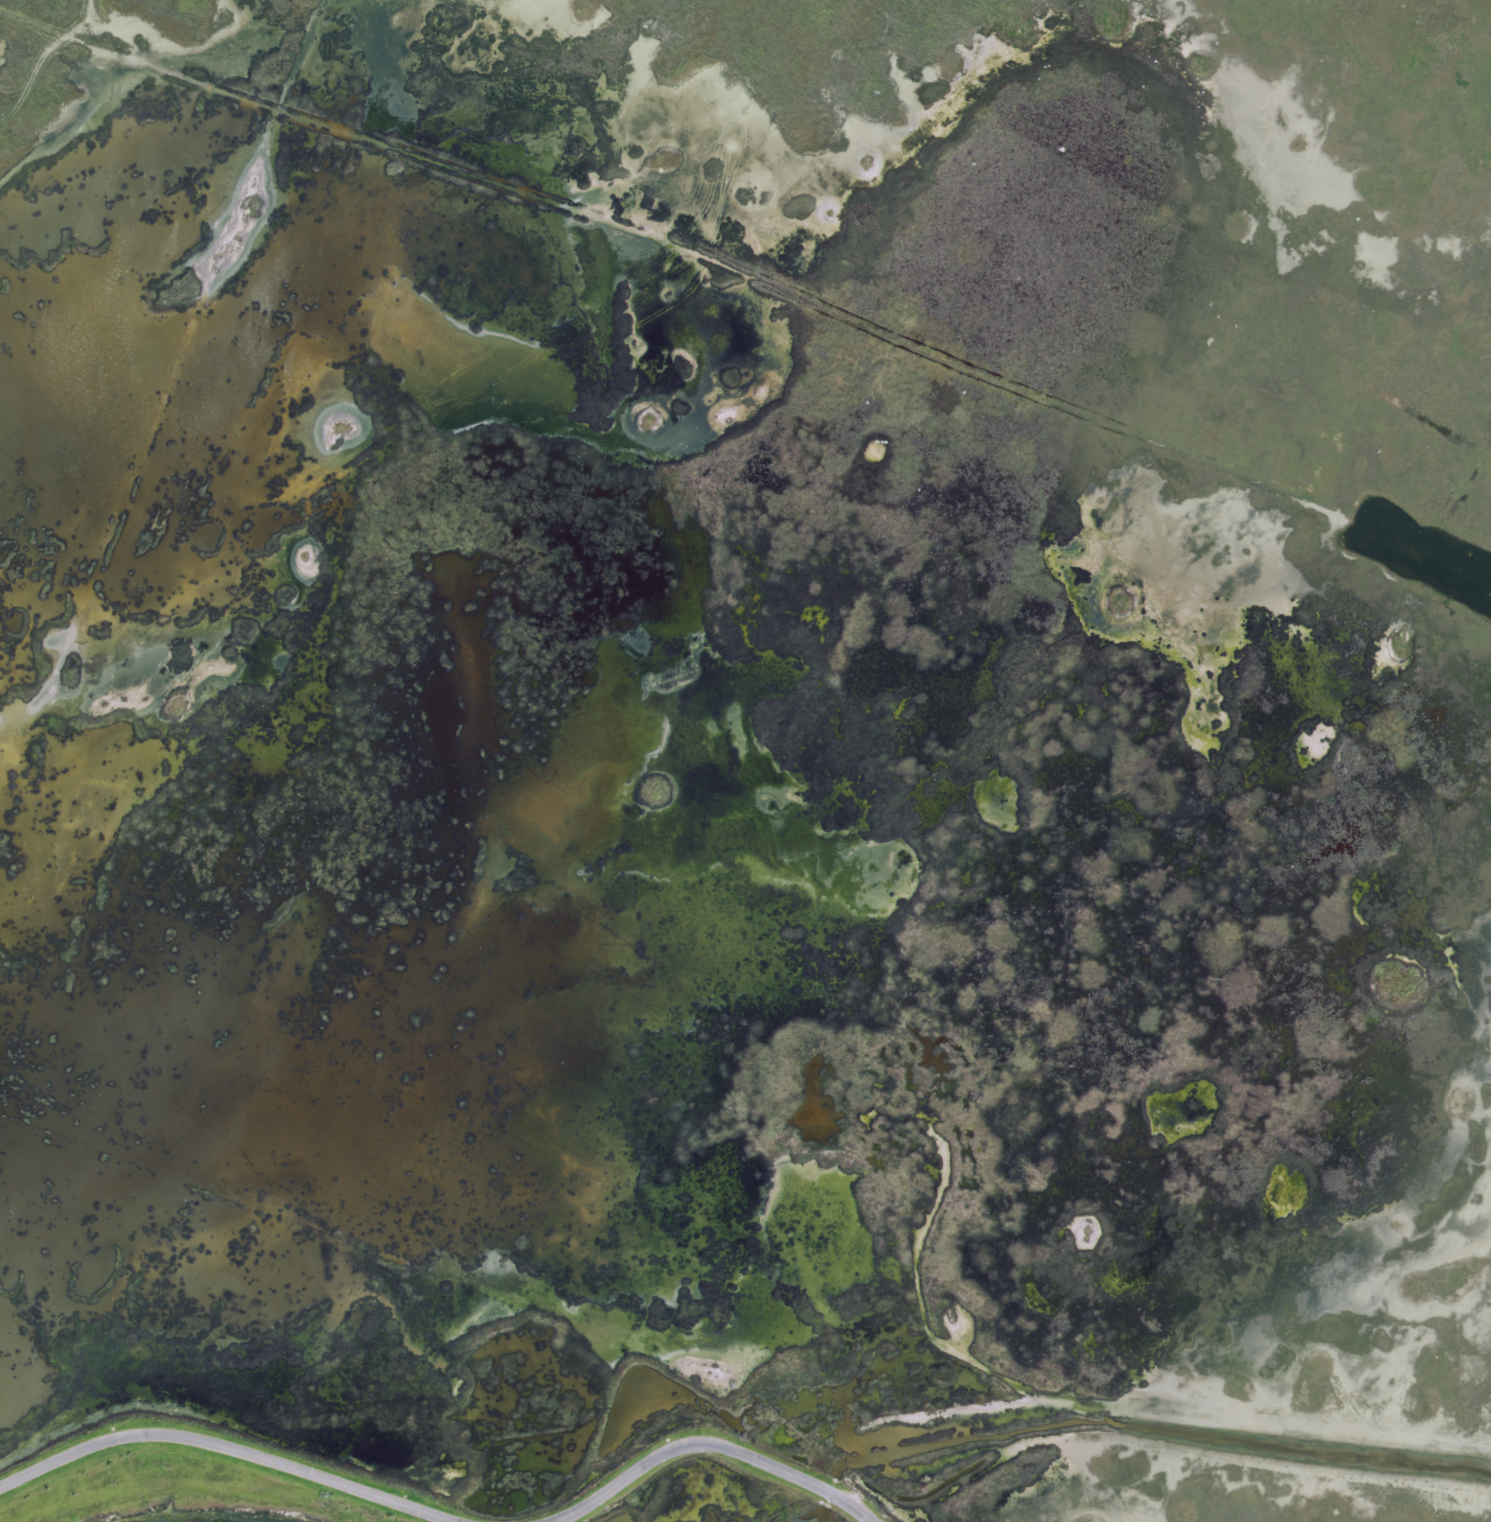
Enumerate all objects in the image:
road: (709, 1446)
road: (224, 1449)

